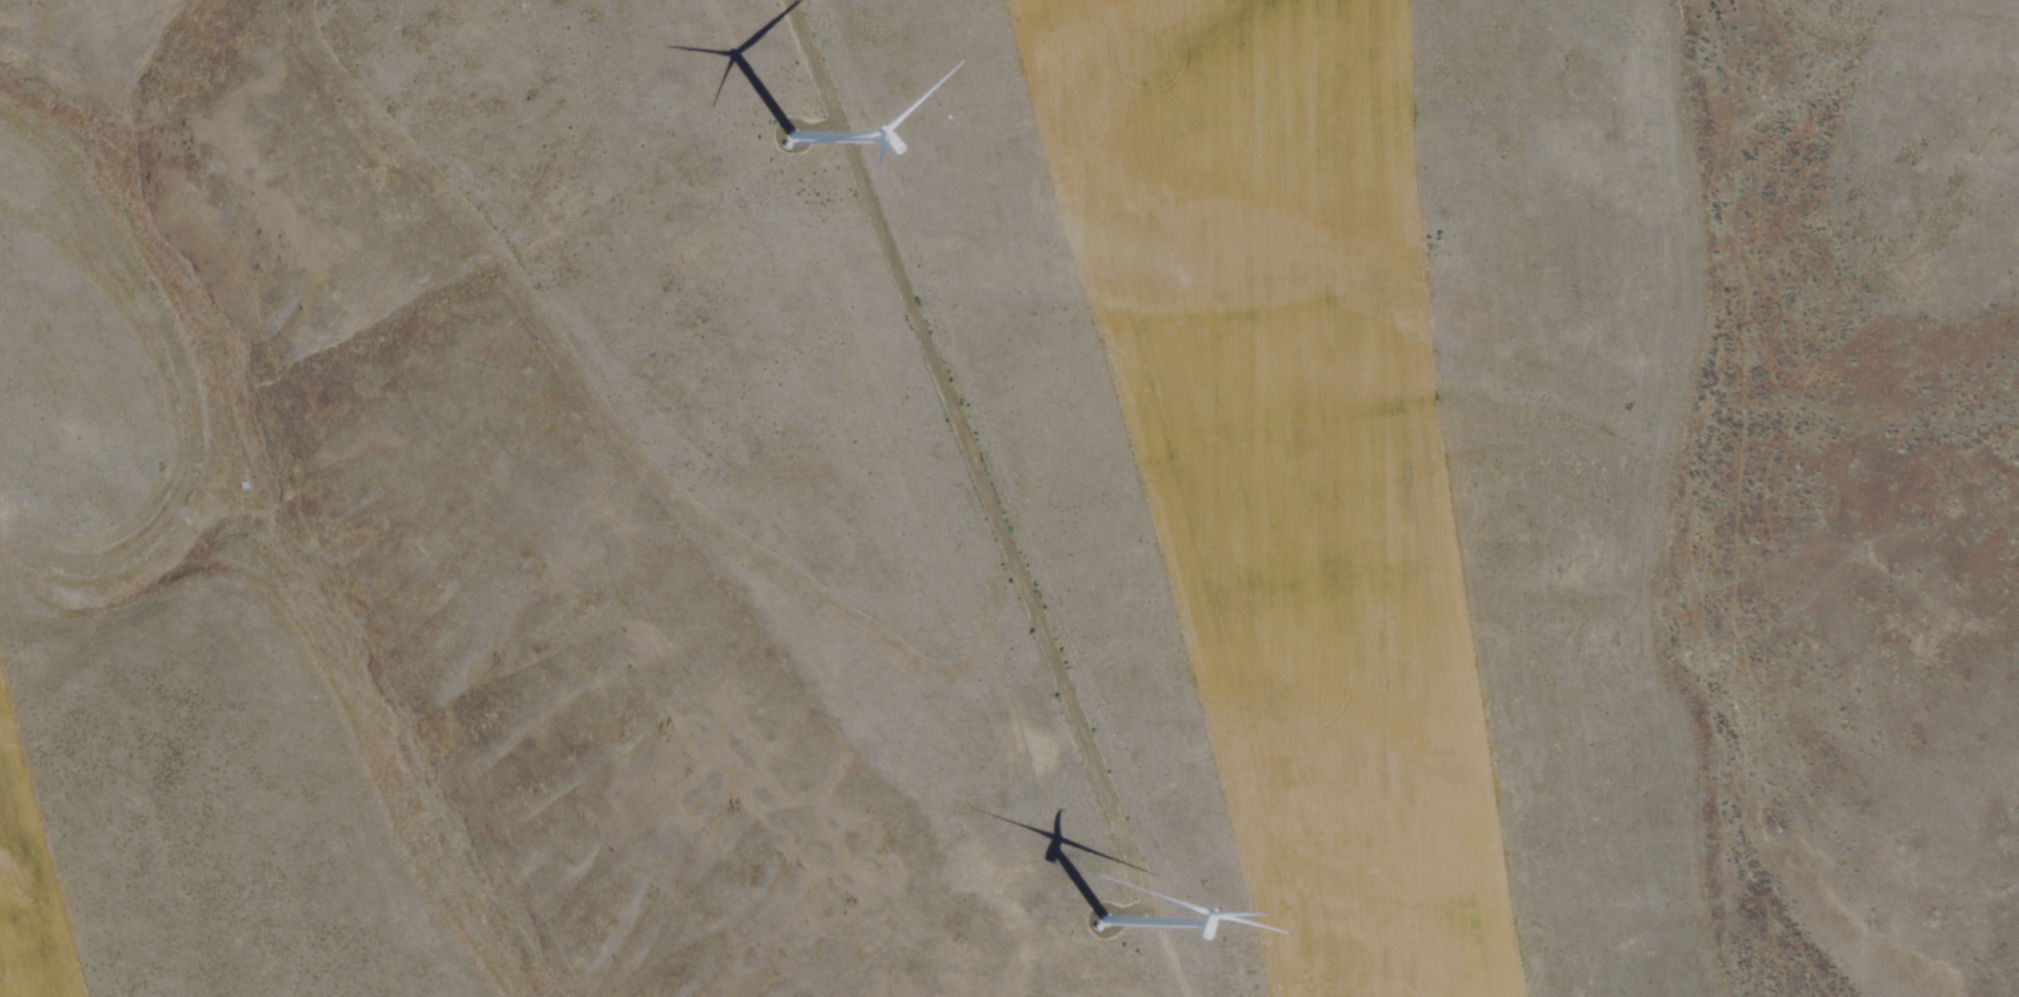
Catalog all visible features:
wind turbine: (791, 136)
road: (967, 448)
wind turbine: (1103, 921)

